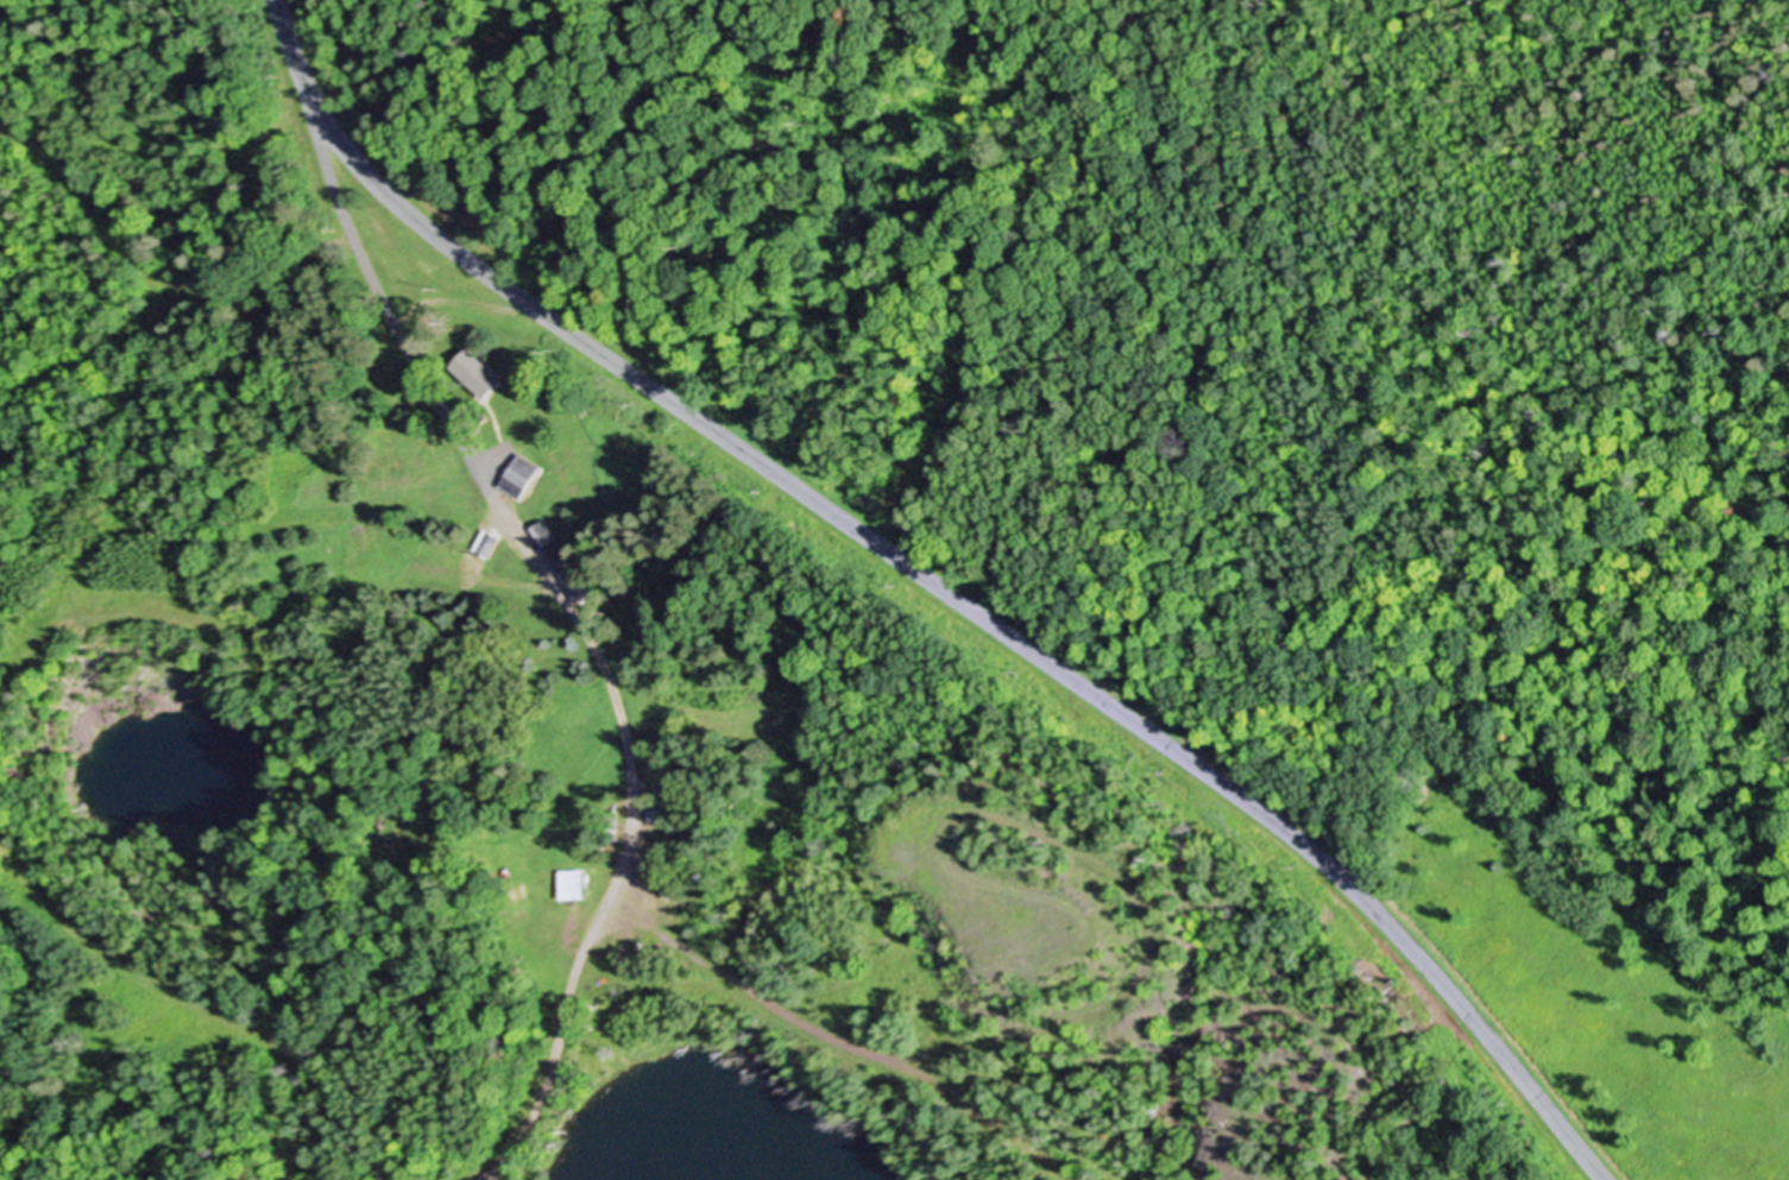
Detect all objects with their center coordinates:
road: (235, 302)
building: (481, 372)
building: (524, 475)
building: (493, 543)
building: (566, 561)
road: (937, 585)
road: (591, 632)
building: (579, 882)
road: (1037, 1023)

